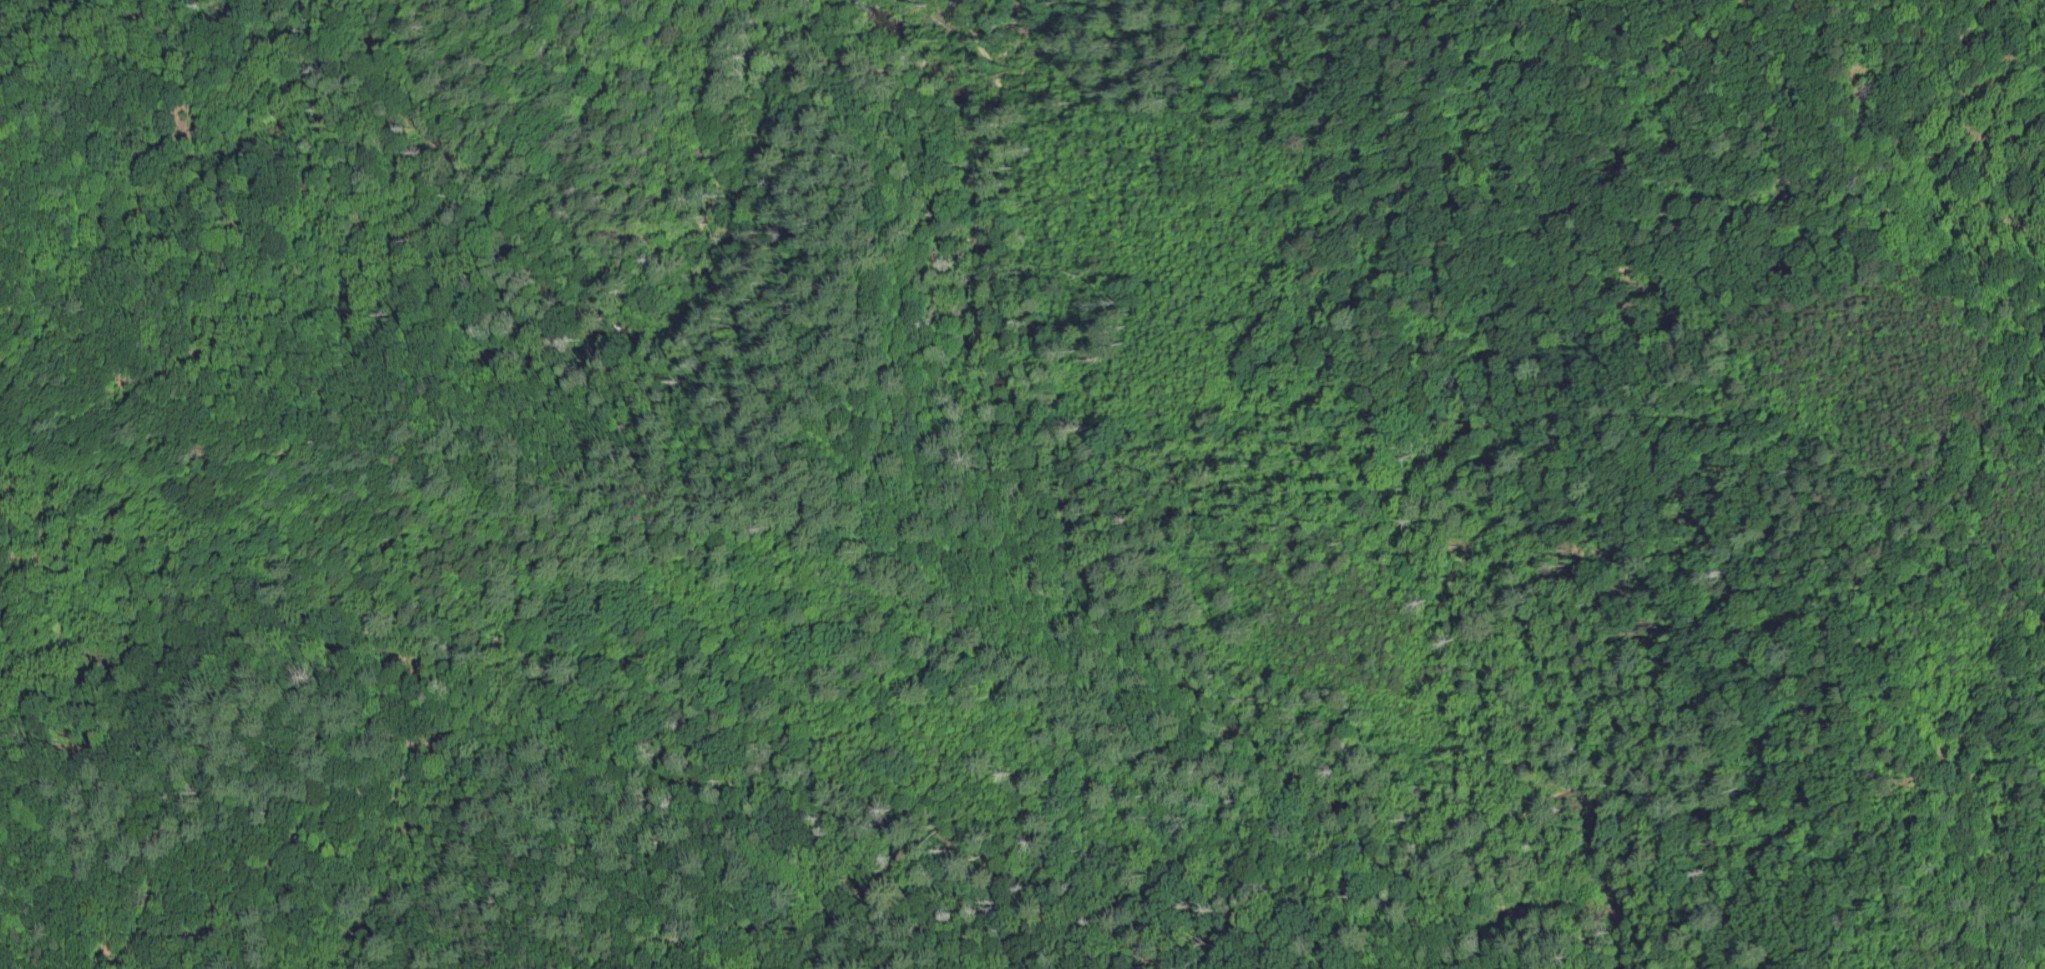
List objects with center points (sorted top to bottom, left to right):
road: (1540, 325)

